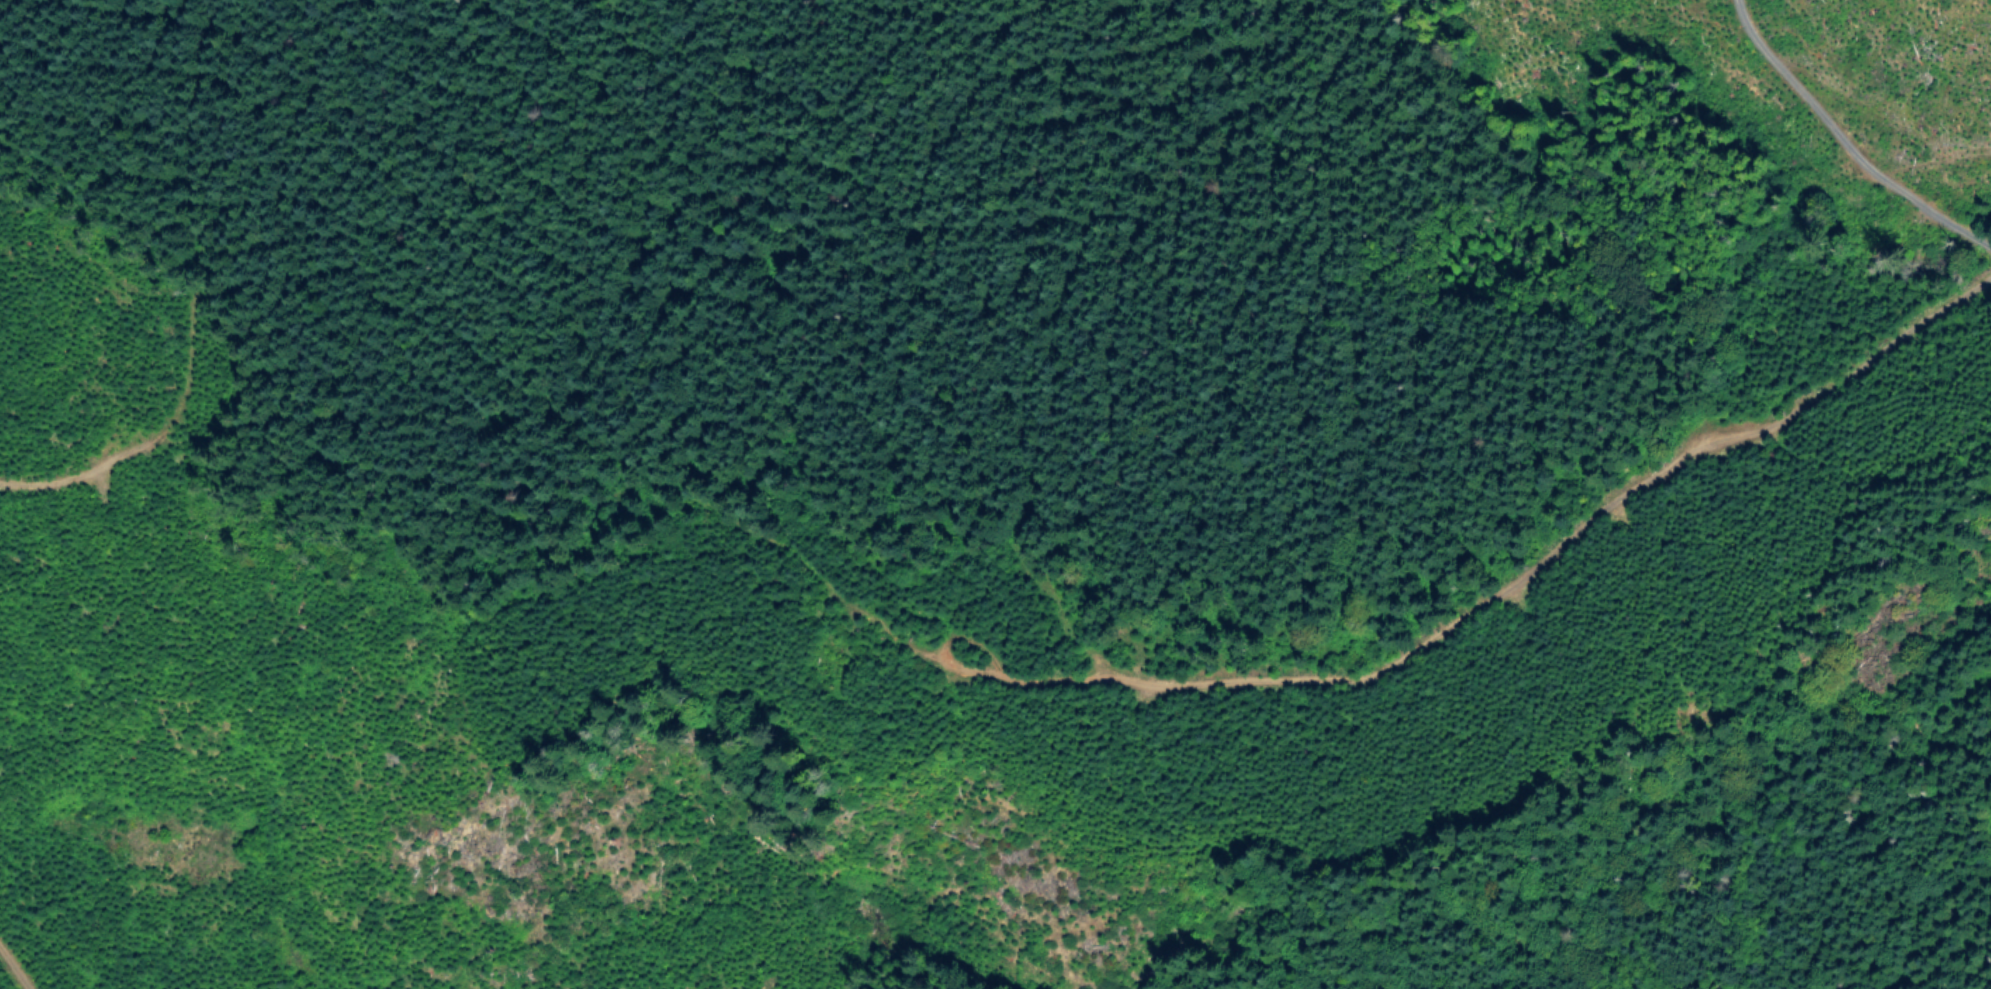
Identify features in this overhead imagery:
road: (1846, 140)

